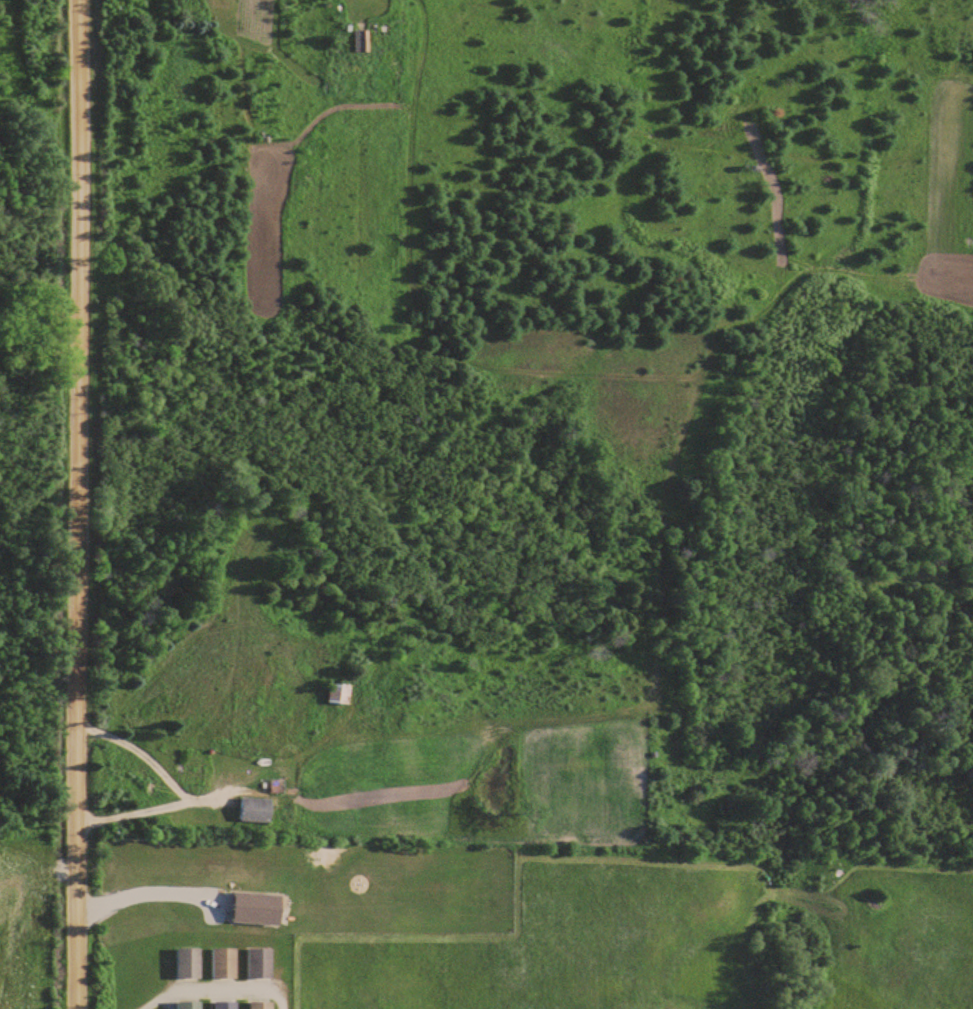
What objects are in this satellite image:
building: (363, 40)
road: (80, 504)
building: (342, 693)
building: (196, 768)
building: (317, 800)
building: (257, 809)
building: (259, 908)
building: (191, 963)
building: (227, 963)
building: (262, 963)
building: (191, 1005)
building: (228, 1005)
building: (263, 1005)

